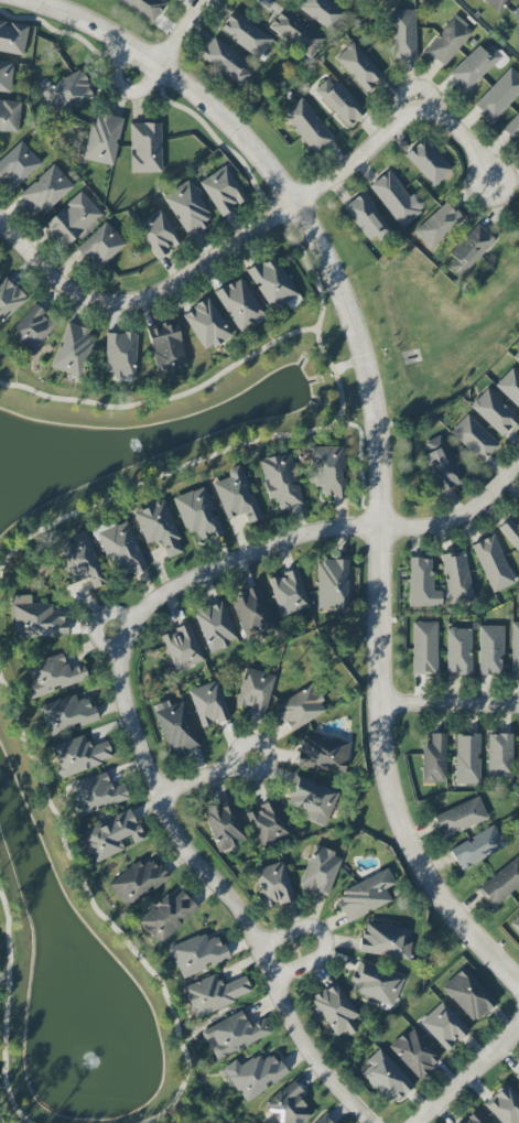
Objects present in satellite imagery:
building: (497, 4)
building: (144, 8)
building: (323, 13)
building: (516, 13)
road: (177, 33)
building: (296, 33)
building: (246, 34)
building: (403, 34)
building: (12, 37)
building: (447, 41)
building: (226, 61)
building: (358, 66)
building: (475, 66)
building: (6, 76)
building: (66, 94)
building: (499, 96)
building: (339, 101)
building: (9, 115)
building: (307, 126)
building: (512, 129)
road: (453, 136)
building: (102, 139)
building: (145, 148)
building: (428, 162)
building: (18, 164)
building: (45, 191)
building: (223, 191)
building: (397, 199)
building: (187, 208)
road: (272, 214)
building: (367, 218)
building: (72, 219)
building: (439, 226)
building: (158, 234)
building: (100, 246)
building: (469, 250)
road: (46, 270)
building: (273, 284)
building: (9, 299)
building: (240, 305)
building: (206, 325)
building: (32, 328)
building: (166, 348)
building: (73, 350)
building: (120, 355)
building: (516, 357)
building: (510, 387)
building: (494, 412)
road: (378, 435)
building: (474, 438)
fountain: (149, 439)
building: (441, 465)
building: (328, 471)
building: (281, 480)
building: (237, 496)
building: (198, 514)
building: (158, 527)
road: (323, 531)
building: (511, 533)
building: (121, 549)
building: (493, 564)
building: (456, 576)
building: (332, 584)
building: (422, 584)
building: (288, 593)
building: (251, 613)
building: (35, 618)
building: (215, 627)
building: (182, 648)
building: (424, 648)
building: (515, 649)
building: (458, 650)
building: (490, 650)
building: (52, 676)
building: (255, 690)
road: (447, 703)
building: (209, 704)
building: (300, 709)
building: (66, 714)
building: (175, 727)
building: (323, 754)
building: (499, 755)
building: (79, 756)
building: (467, 758)
building: (434, 759)
road: (202, 775)
building: (95, 795)
building: (311, 798)
building: (459, 817)
building: (267, 822)
building: (224, 827)
building: (110, 835)
building: (477, 847)
building: (320, 871)
building: (138, 882)
road: (216, 884)
building: (500, 884)
building: (273, 885)
building: (365, 896)
building: (167, 916)
building: (516, 924)
building: (386, 940)
road: (322, 943)
building: (197, 954)
building: (376, 984)
building: (215, 994)
building: (468, 995)
building: (336, 1009)
building: (443, 1026)
building: (235, 1034)
building: (414, 1052)
fountain: (94, 1057)
road: (468, 1075)
building: (253, 1076)
building: (517, 1076)
building: (385, 1078)
building: (288, 1105)
building: (504, 1105)
building: (474, 1119)
building: (323, 1120)

